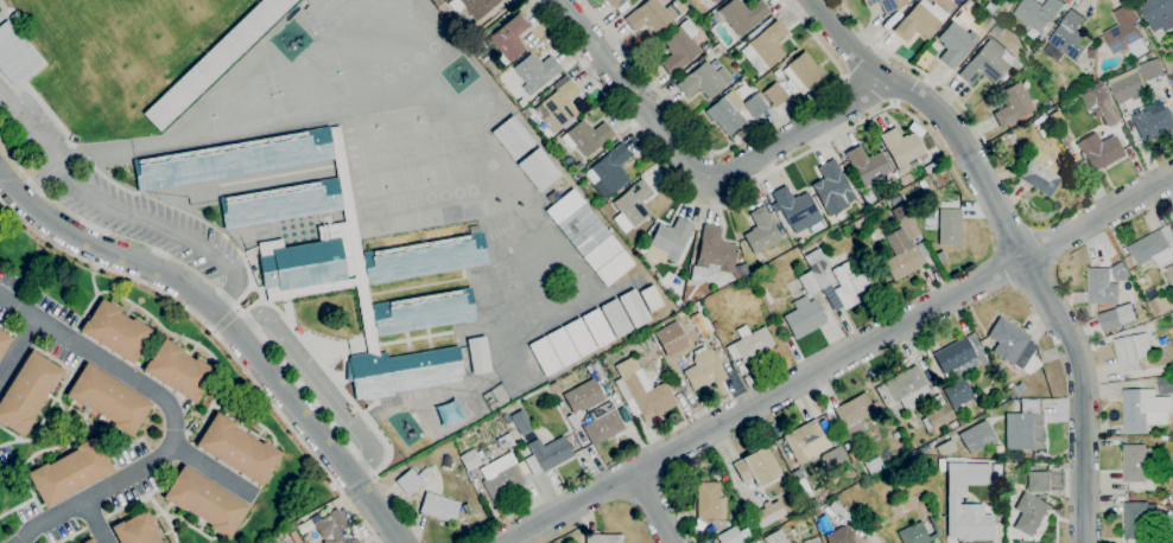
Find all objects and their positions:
building: (715, 0)
building: (437, 1)
building: (616, 2)
building: (887, 4)
building: (474, 6)
building: (966, 6)
building: (989, 7)
building: (654, 14)
building: (740, 14)
building: (1038, 14)
building: (1158, 14)
building: (963, 19)
building: (920, 20)
building: (990, 23)
building: (998, 30)
building: (1124, 33)
building: (508, 39)
building: (1067, 39)
building: (955, 44)
building: (679, 46)
building: (705, 47)
building: (765, 47)
building: (14, 55)
building: (214, 59)
building: (987, 63)
road: (914, 69)
building: (1150, 70)
building: (535, 72)
building: (804, 72)
building: (704, 81)
building: (1126, 85)
building: (774, 94)
building: (755, 104)
building: (1013, 104)
building: (559, 106)
building: (1099, 106)
building: (725, 113)
building: (1153, 123)
building: (512, 138)
building: (586, 138)
road: (734, 142)
building: (901, 147)
building: (1099, 151)
park: (424, 152)
park: (382, 158)
building: (867, 165)
building: (538, 170)
building: (609, 171)
road: (695, 175)
building: (1040, 178)
road: (37, 179)
building: (832, 189)
parking lot: (115, 194)
building: (867, 197)
building: (896, 203)
building: (563, 204)
building: (632, 206)
road: (710, 206)
building: (795, 209)
road: (119, 211)
building: (576, 221)
building: (1172, 222)
building: (860, 223)
building: (949, 226)
building: (761, 230)
building: (588, 236)
road: (1014, 238)
building: (667, 241)
building: (902, 248)
building: (1154, 248)
building: (601, 250)
building: (334, 251)
building: (715, 256)
building: (941, 256)
building: (613, 266)
building: (818, 268)
building: (1169, 274)
road: (208, 282)
building: (809, 282)
building: (851, 286)
building: (1101, 288)
building: (651, 296)
building: (1160, 305)
building: (634, 307)
building: (804, 317)
building: (615, 318)
road: (226, 320)
building: (1109, 320)
road: (202, 321)
road: (228, 324)
building: (699, 324)
building: (597, 327)
building: (115, 331)
building: (579, 337)
building: (670, 339)
building: (4, 341)
building: (1010, 343)
building: (750, 344)
building: (562, 345)
road: (20, 351)
building: (1131, 353)
building: (478, 354)
building: (544, 354)
road: (838, 358)
building: (703, 369)
building: (958, 369)
building: (178, 370)
building: (598, 372)
road: (319, 379)
building: (1165, 384)
building: (903, 389)
building: (1015, 389)
building: (27, 391)
building: (643, 395)
building: (583, 396)
building: (108, 400)
building: (1143, 410)
building: (854, 414)
building: (937, 414)
road: (172, 416)
building: (963, 421)
building: (521, 422)
building: (952, 424)
building: (602, 426)
building: (1025, 427)
building: (1172, 429)
building: (977, 437)
building: (803, 439)
building: (506, 440)
building: (847, 446)
building: (945, 447)
building: (237, 449)
building: (546, 455)
building: (852, 456)
building: (833, 458)
building: (469, 459)
building: (1134, 464)
building: (873, 465)
building: (755, 467)
road: (215, 471)
building: (69, 472)
building: (425, 474)
building: (501, 477)
building: (965, 477)
building: (408, 481)
building: (1038, 481)
building: (801, 483)
building: (205, 502)
building: (709, 502)
building: (813, 502)
road: (355, 506)
road: (654, 506)
building: (439, 507)
building: (838, 511)
building: (767, 513)
building: (1029, 513)
building: (819, 515)
building: (1143, 520)
road: (97, 522)
building: (974, 522)
building: (804, 523)
building: (330, 524)
building: (135, 530)
building: (919, 532)
building: (733, 535)
building: (289, 537)
building: (775, 537)
building: (603, 538)
building: (89, 541)
building: (342, 541)
building: (811, 541)
building: (163, 542)
building: (752, 542)

